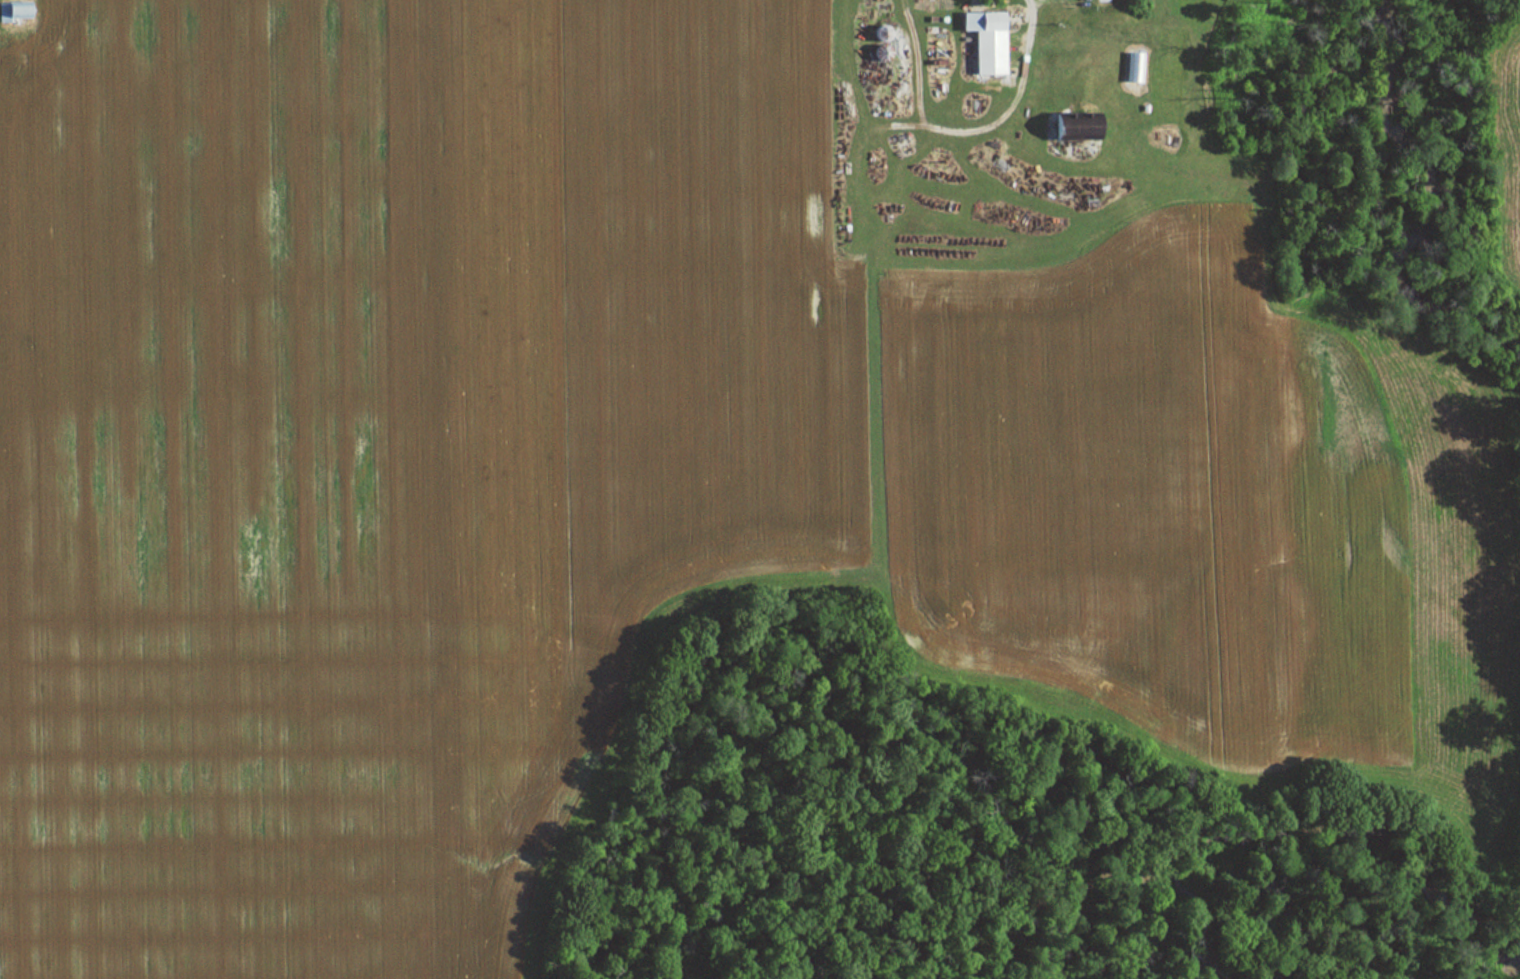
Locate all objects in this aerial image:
building: (2, 11)
building: (980, 39)
building: (1068, 128)
crop: (1507, 128)
crop: (382, 445)
crop: (1131, 503)

